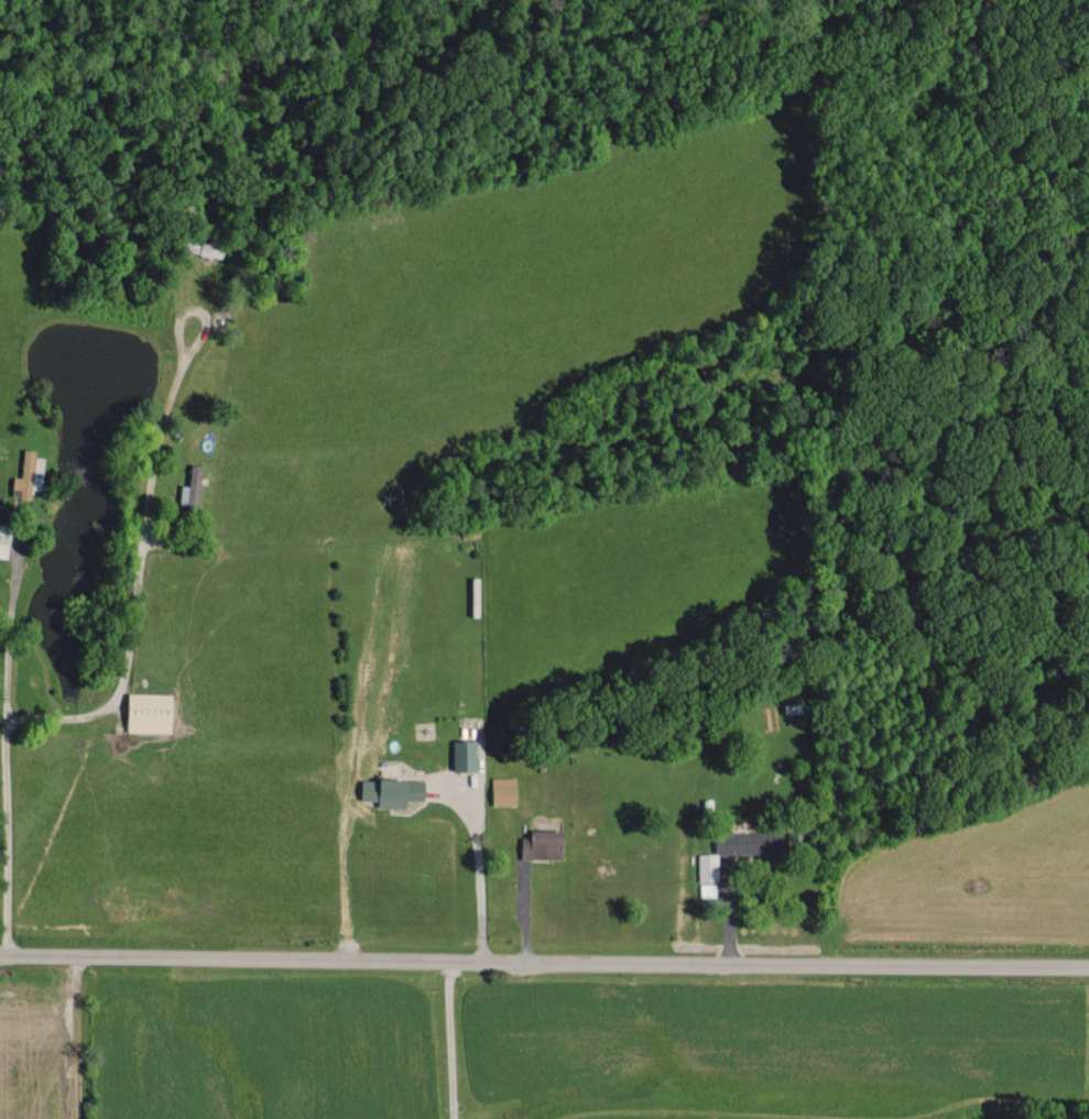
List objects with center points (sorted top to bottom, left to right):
building: (193, 486)
building: (4, 539)
road: (140, 551)
road: (7, 636)
building: (150, 712)
building: (466, 755)
building: (393, 790)
building: (504, 790)
road: (4, 835)
building: (751, 843)
building: (544, 844)
road: (477, 859)
building: (708, 866)
building: (708, 889)
road: (544, 961)
road: (450, 1039)

